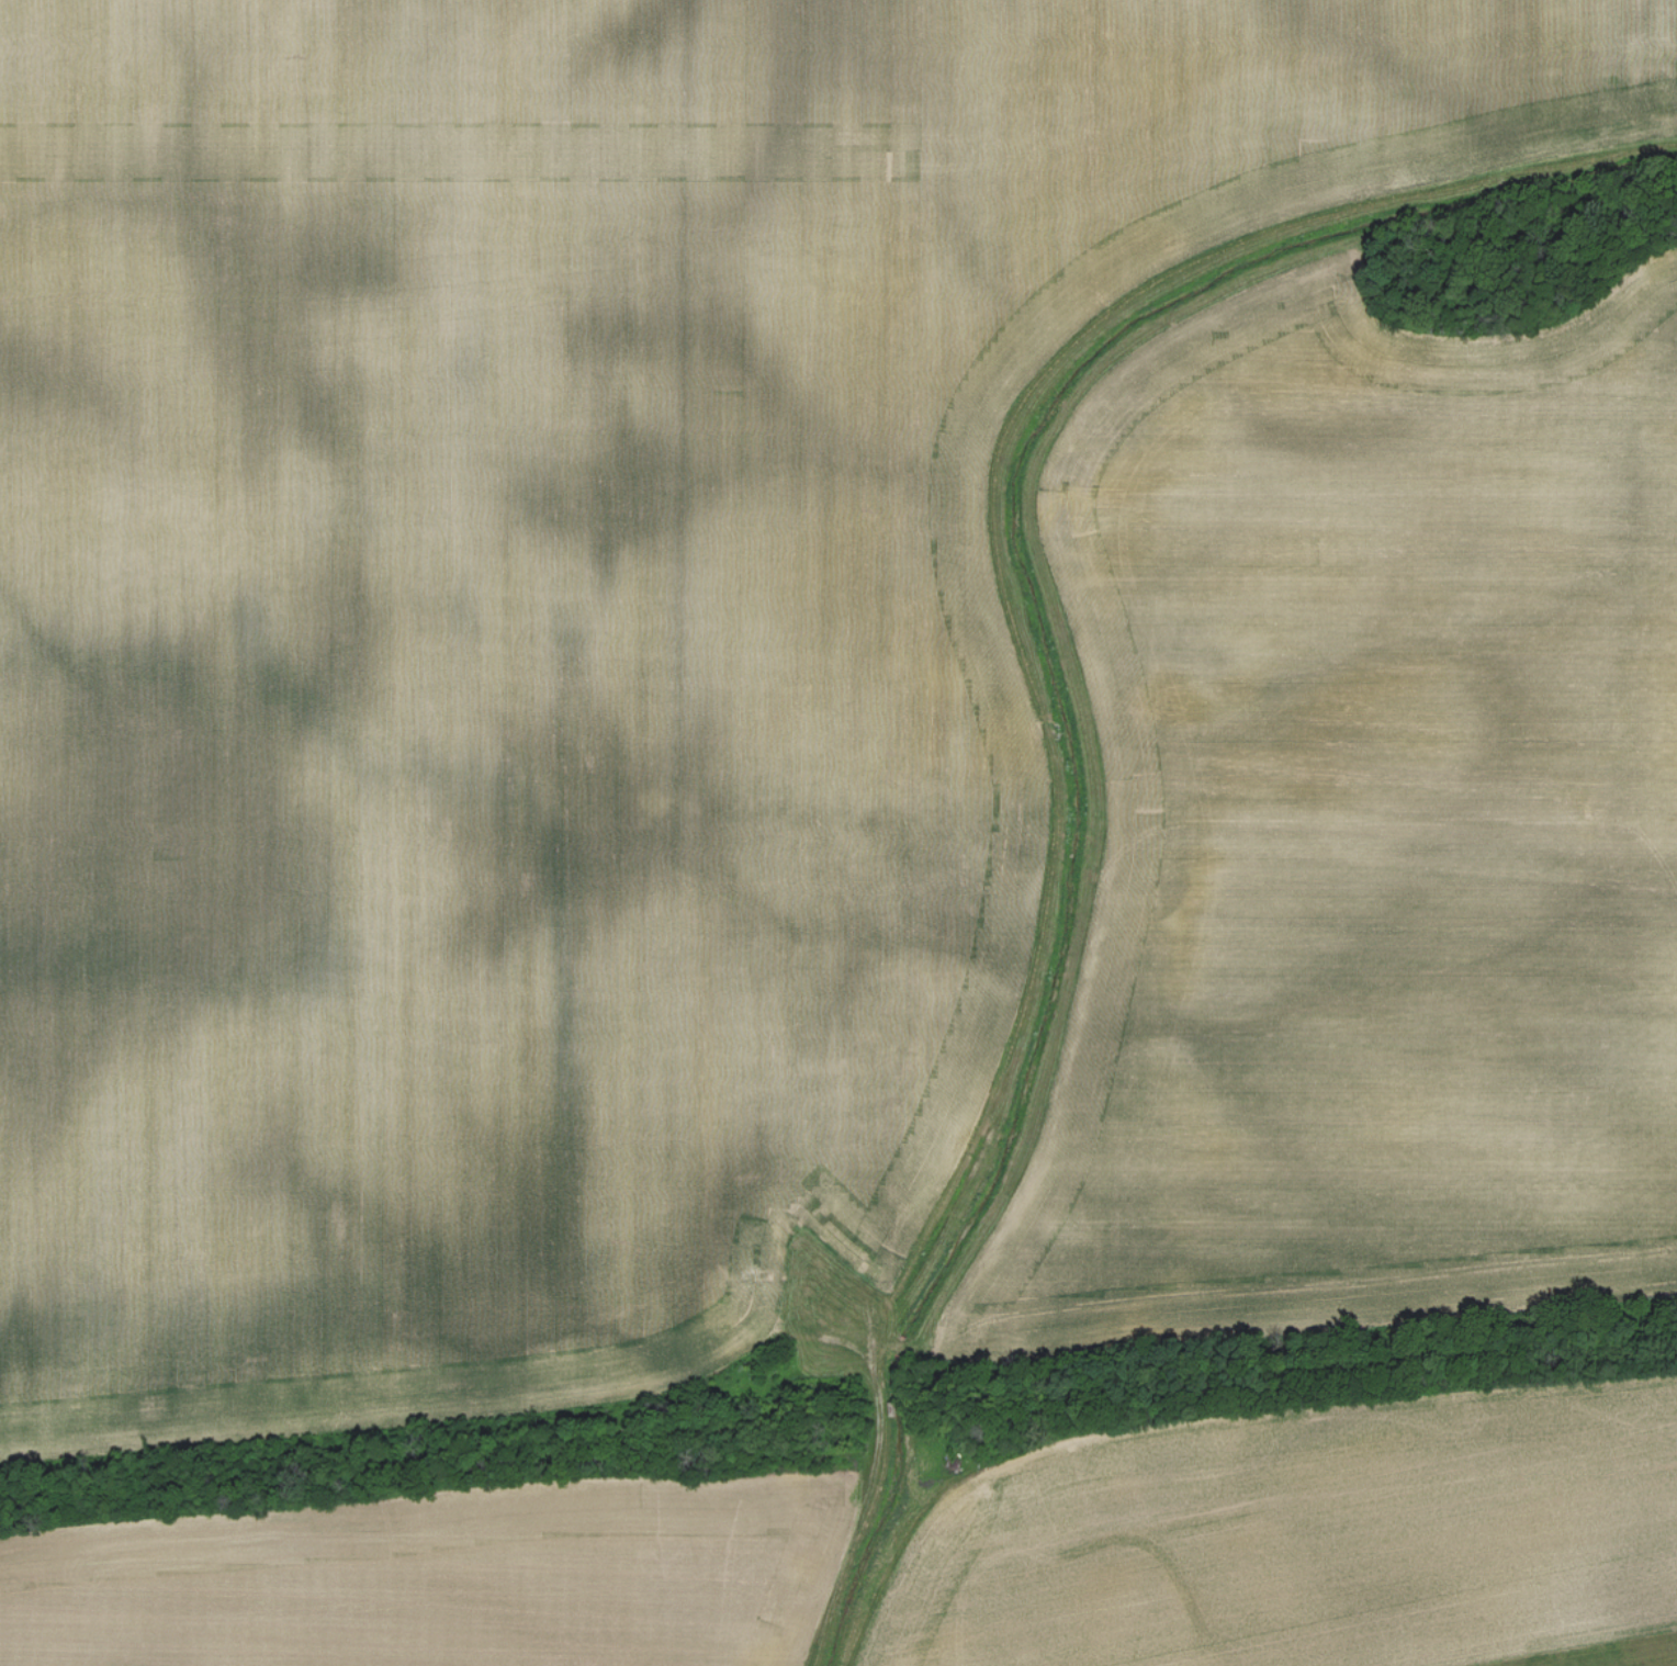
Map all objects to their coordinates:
airport runway: (1662, 1663)

